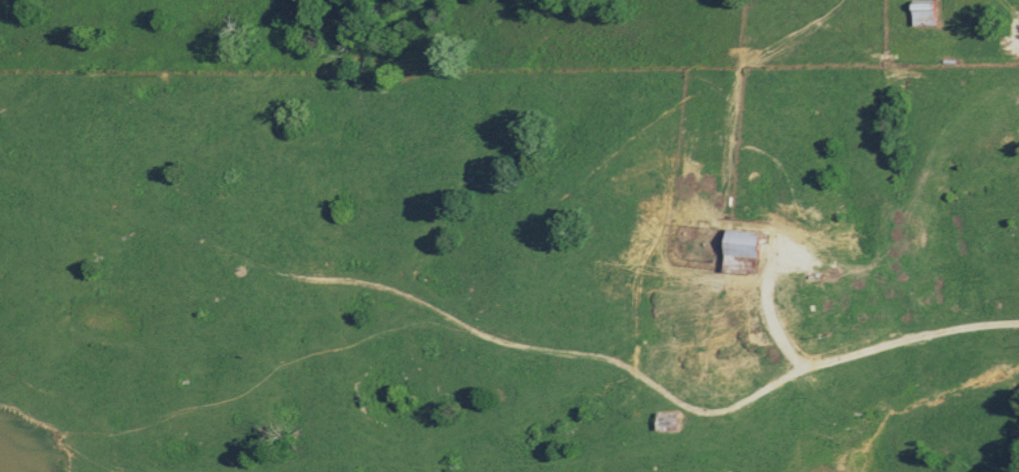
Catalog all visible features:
building: (919, 12)
building: (736, 250)
road: (509, 342)
building: (663, 420)

